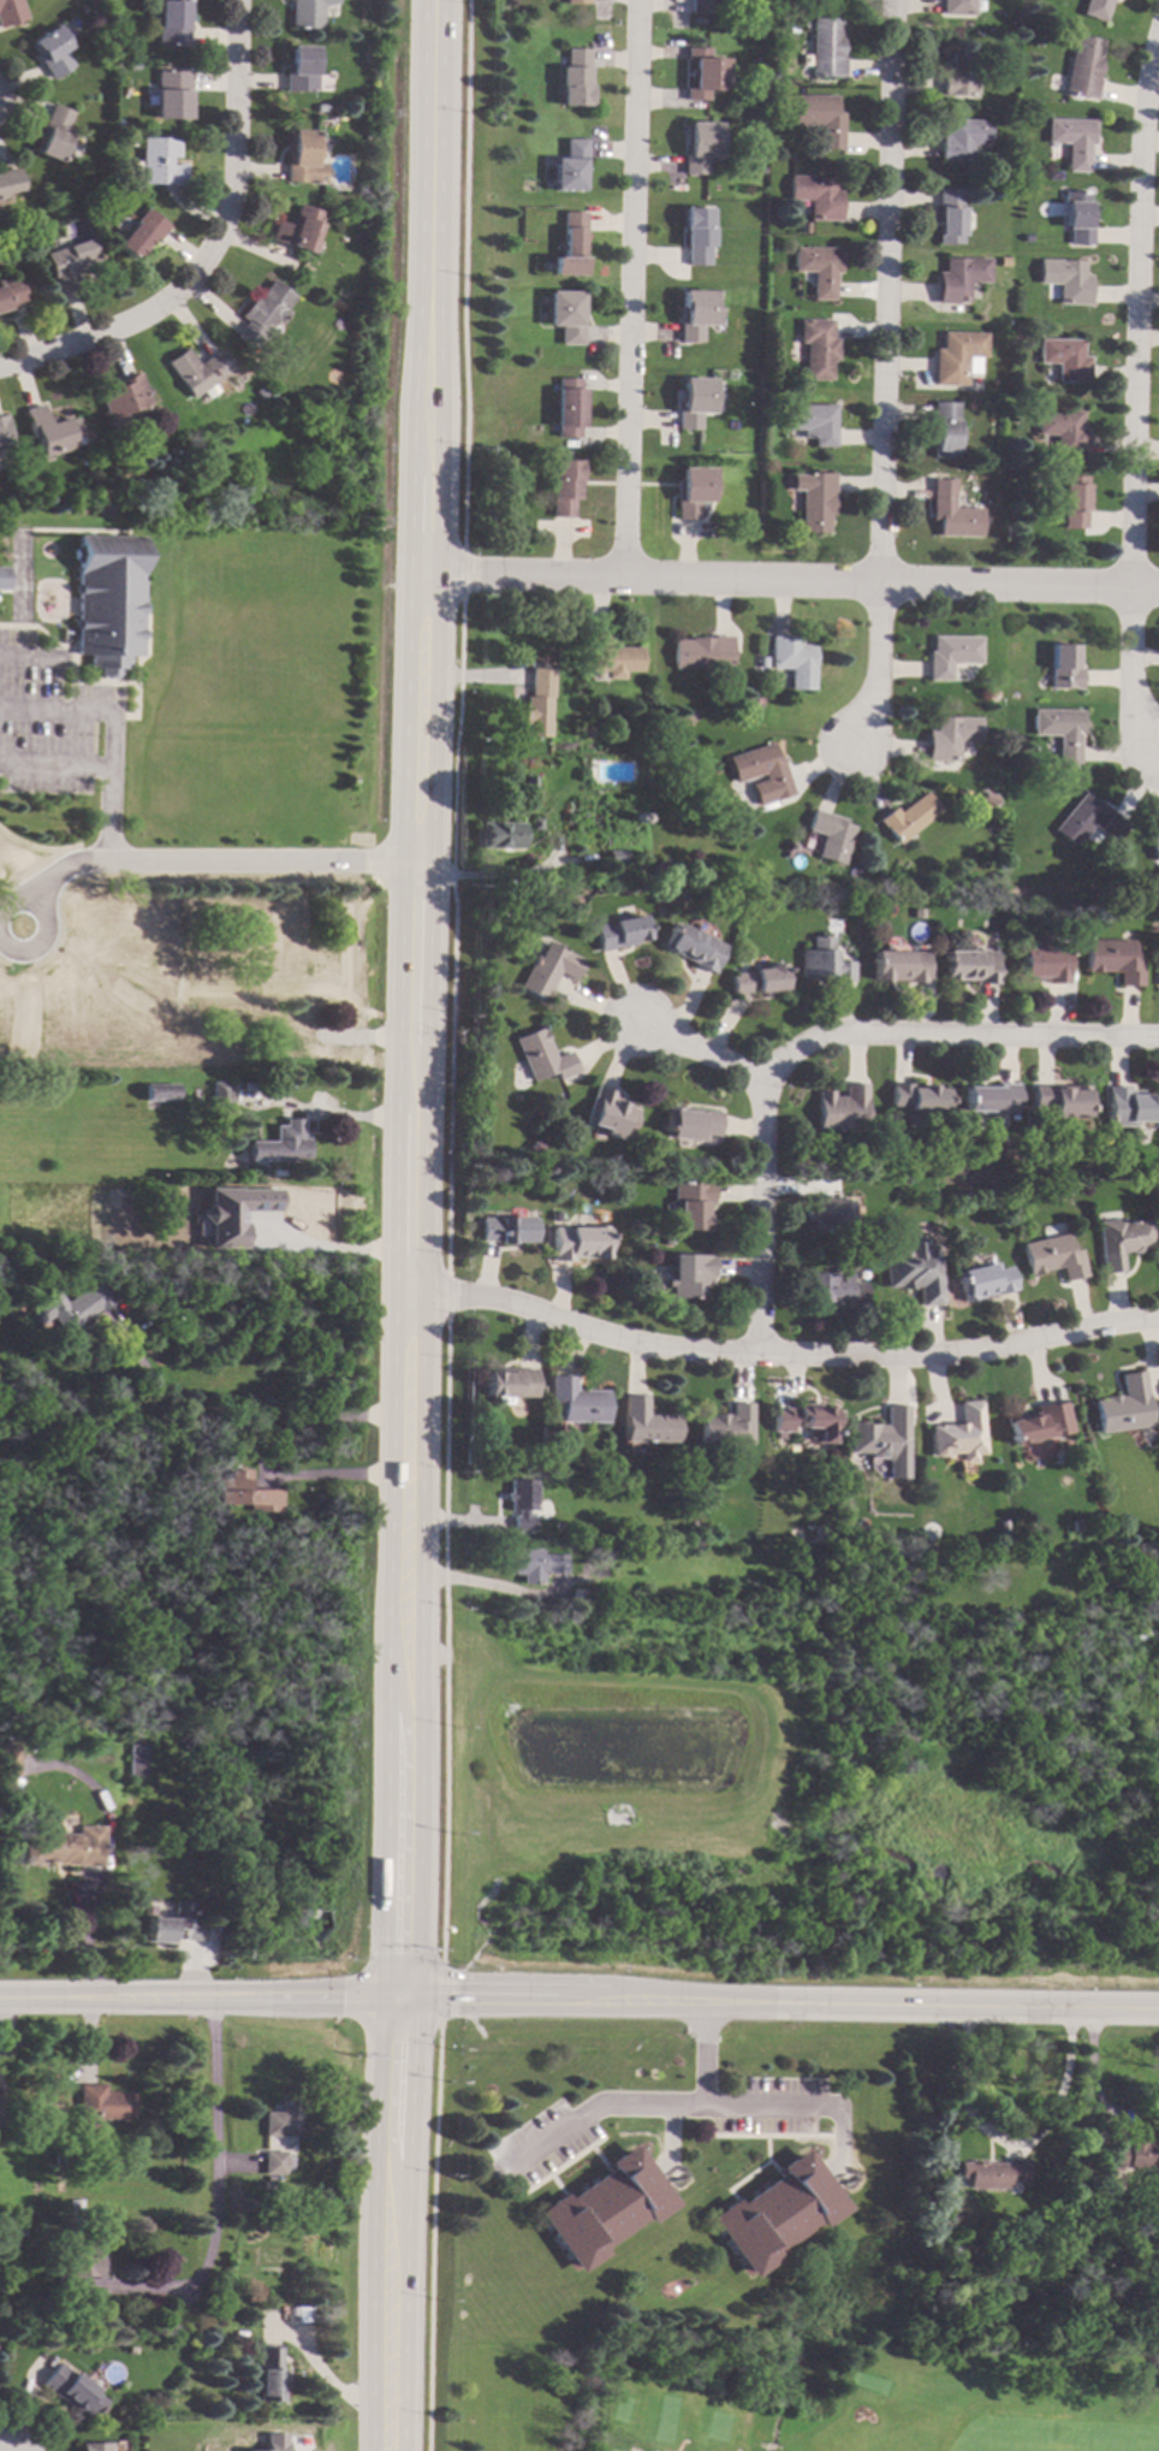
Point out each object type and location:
building: (575, 1)
building: (700, 6)
building: (956, 6)
building: (1094, 8)
building: (8, 11)
building: (311, 12)
building: (170, 23)
building: (825, 48)
building: (49, 51)
building: (131, 66)
building: (1081, 67)
building: (299, 70)
building: (326, 71)
building: (702, 73)
building: (957, 75)
building: (572, 78)
building: (170, 95)
building: (320, 107)
building: (819, 118)
building: (52, 134)
building: (959, 138)
building: (1070, 141)
building: (697, 146)
building: (301, 156)
building: (159, 161)
road: (225, 162)
building: (567, 167)
building: (8, 182)
building: (361, 188)
building: (1003, 191)
building: (815, 196)
building: (1044, 209)
building: (949, 215)
building: (1075, 217)
building: (296, 229)
building: (139, 233)
building: (695, 236)
building: (1024, 238)
building: (570, 245)
building: (1003, 260)
building: (70, 264)
building: (818, 268)
building: (958, 278)
building: (1064, 279)
road: (623, 286)
road: (880, 292)
building: (11, 294)
building: (262, 313)
building: (694, 314)
building: (565, 315)
building: (979, 316)
road: (81, 343)
building: (816, 348)
building: (955, 356)
building: (1063, 359)
building: (196, 371)
road: (1128, 381)
building: (258, 393)
building: (121, 402)
building: (694, 402)
building: (567, 407)
building: (812, 422)
building: (944, 430)
building: (50, 431)
building: (1062, 431)
building: (5, 434)
building: (563, 487)
building: (693, 491)
building: (815, 501)
building: (1072, 502)
building: (952, 511)
building: (4, 578)
road: (794, 581)
building: (107, 597)
building: (702, 653)
building: (951, 655)
road: (14, 657)
building: (612, 657)
building: (794, 661)
building: (1063, 667)
road: (869, 668)
building: (537, 704)
road: (424, 706)
building: (1058, 730)
building: (588, 732)
building: (950, 736)
building: (760, 772)
building: (528, 785)
building: (908, 817)
building: (1087, 821)
building: (534, 824)
building: (498, 835)
building: (830, 835)
building: (1153, 841)
building: (616, 856)
road: (53, 858)
road: (166, 860)
building: (505, 911)
building: (619, 931)
building: (693, 947)
building: (262, 958)
building: (1112, 959)
building: (824, 963)
building: (1045, 963)
building: (970, 964)
building: (899, 965)
building: (1158, 965)
building: (548, 970)
building: (757, 979)
road: (809, 1040)
road: (695, 1049)
building: (225, 1052)
building: (542, 1056)
building: (160, 1091)
building: (221, 1094)
building: (916, 1096)
building: (200, 1097)
building: (989, 1097)
building: (1059, 1100)
building: (1128, 1106)
building: (842, 1108)
building: (610, 1113)
building: (689, 1123)
building: (280, 1143)
building: (227, 1194)
building: (690, 1204)
building: (830, 1213)
building: (281, 1221)
building: (220, 1227)
building: (510, 1230)
building: (1121, 1241)
building: (579, 1242)
building: (184, 1244)
road: (327, 1249)
building: (1053, 1256)
building: (911, 1269)
building: (688, 1274)
building: (985, 1280)
building: (833, 1286)
building: (70, 1307)
road: (784, 1357)
building: (511, 1383)
building: (577, 1401)
building: (1123, 1405)
road: (245, 1413)
building: (803, 1420)
building: (647, 1422)
building: (1038, 1422)
building: (727, 1426)
building: (880, 1434)
building: (959, 1434)
road: (410, 1444)
road: (335, 1475)
building: (246, 1490)
building: (522, 1502)
building: (1076, 1525)
building: (691, 1527)
building: (536, 1564)
building: (588, 1568)
building: (583, 1599)
building: (41, 1614)
building: (1140, 1632)
building: (1119, 1634)
building: (77, 1723)
building: (185, 1745)
building: (135, 1759)
building: (10, 1762)
building: (66, 1846)
building: (174, 1924)
road: (399, 1962)
traffic signals: (399, 2001)
road: (578, 2007)
building: (101, 2107)
road: (715, 2108)
road: (608, 2112)
building: (1, 2119)
building: (283, 2120)
road: (1011, 2144)
building: (1130, 2155)
building: (61, 2159)
building: (277, 2163)
building: (995, 2173)
road: (214, 2187)
building: (76, 2208)
building: (605, 2208)
building: (778, 2213)
building: (17, 2231)
building: (956, 2244)
building: (81, 2267)
building: (304, 2314)
building: (271, 2375)
park: (787, 2375)
building: (72, 2392)
building: (274, 2443)
building: (94, 2446)

